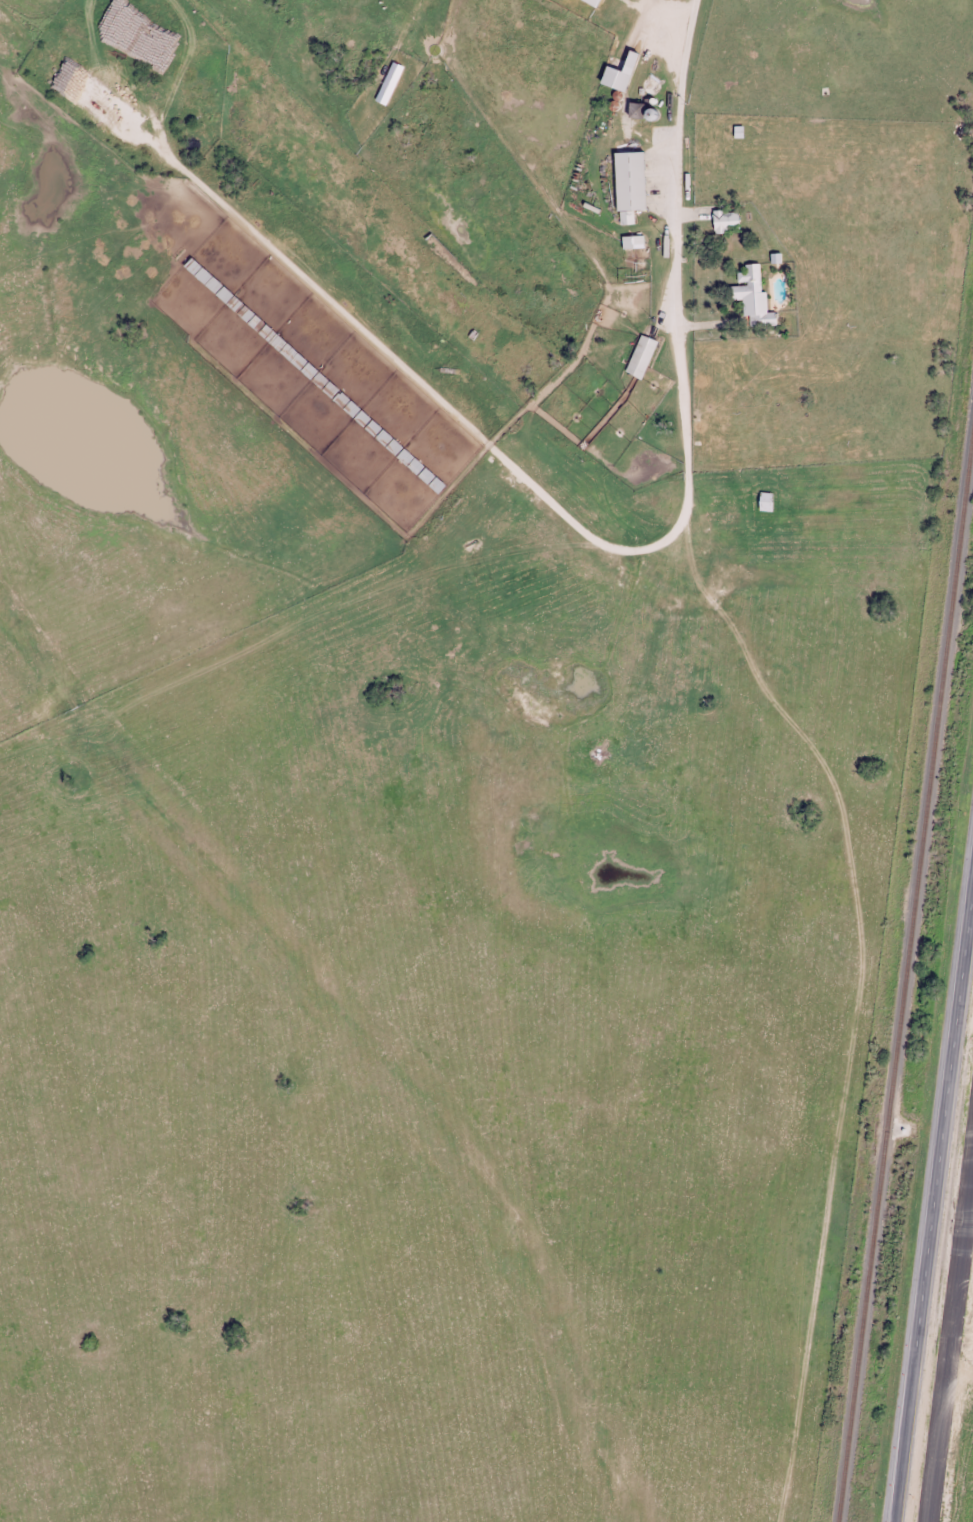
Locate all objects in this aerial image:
building: (597, 1)
building: (622, 73)
building: (390, 82)
building: (638, 109)
building: (631, 184)
road: (646, 197)
building: (727, 220)
building: (635, 258)
building: (453, 259)
building: (752, 296)
building: (642, 355)
building: (423, 471)
building: (767, 500)
road: (202, 614)
railway: (905, 996)
road: (931, 1192)
road: (949, 1336)

